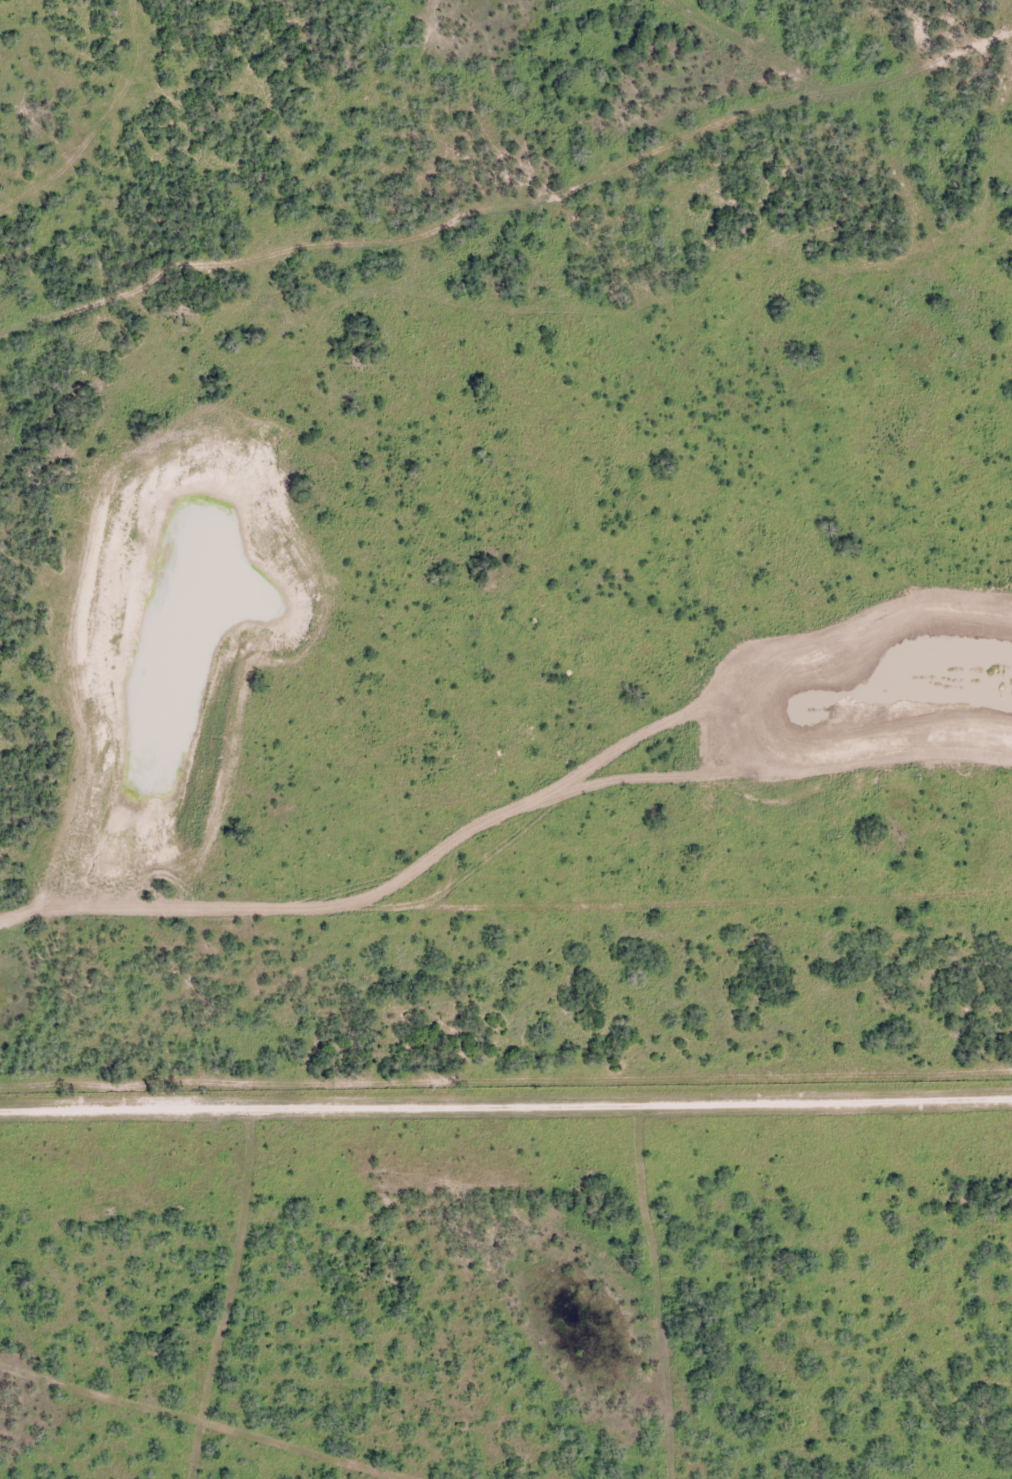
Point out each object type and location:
road: (454, 166)
road: (506, 1104)

